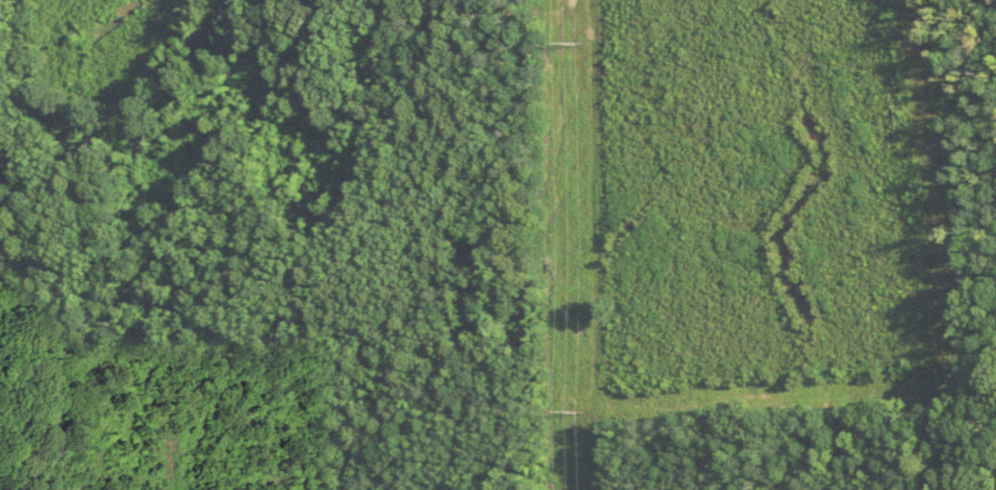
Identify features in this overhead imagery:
power tower: (575, 42)
power tower: (572, 411)

